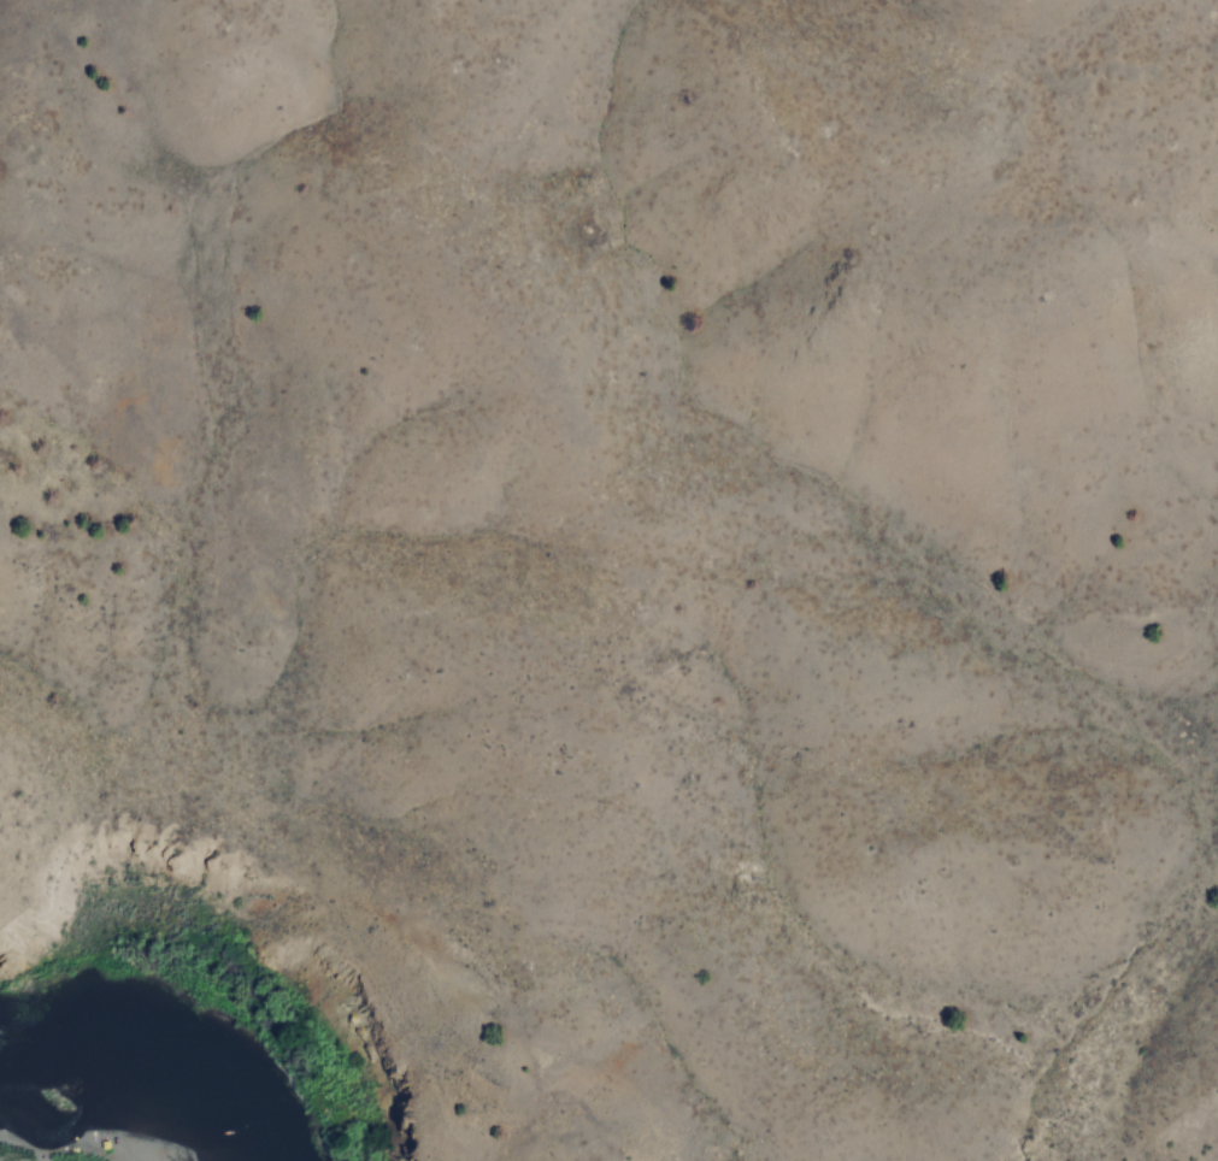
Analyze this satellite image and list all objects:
river: (165, 1031)

